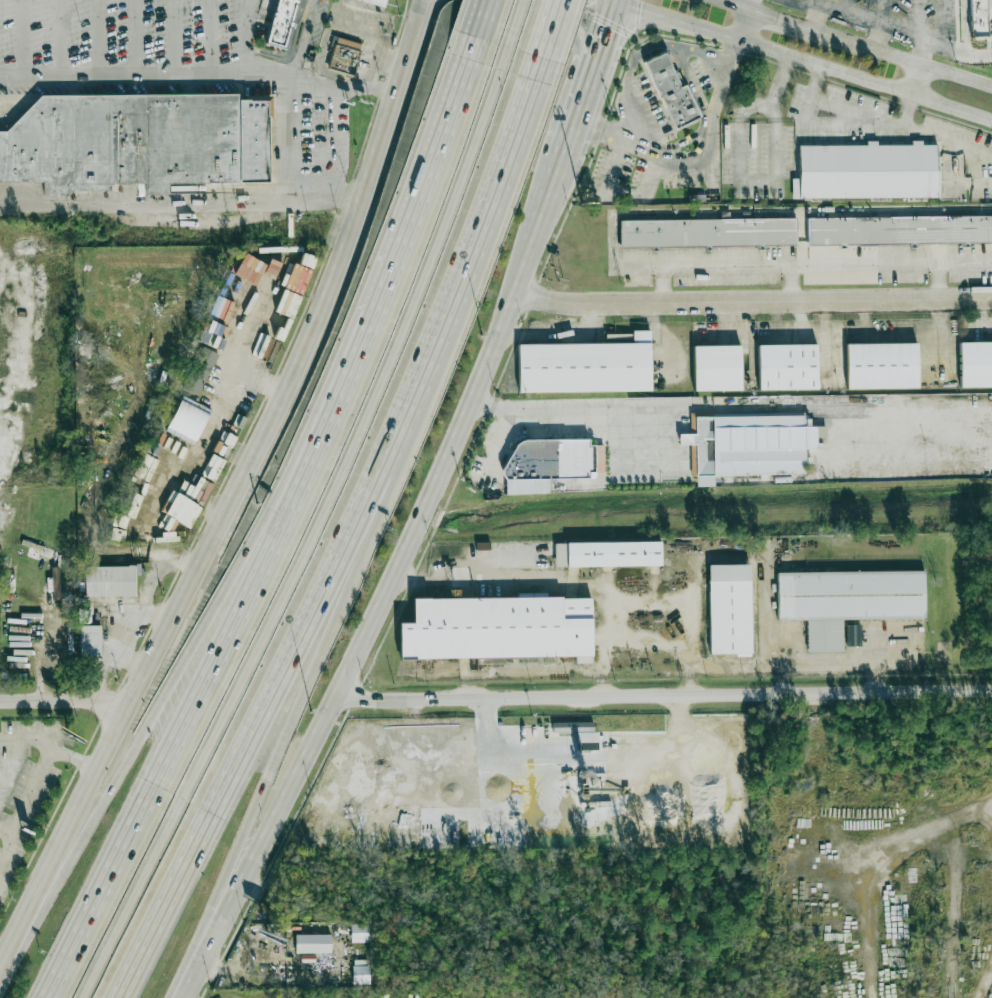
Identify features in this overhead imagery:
road: (612, 1)
road: (616, 1)
building: (376, 3)
road: (846, 5)
road: (752, 6)
road: (423, 10)
road: (427, 10)
road: (435, 10)
road: (882, 10)
road: (816, 16)
road: (868, 16)
road: (557, 17)
road: (480, 19)
building: (283, 23)
road: (514, 23)
road: (945, 24)
traffic signals: (606, 26)
road: (746, 26)
road: (605, 27)
road: (550, 29)
road: (922, 33)
road: (878, 35)
road: (20, 38)
road: (61, 38)
road: (96, 38)
road: (134, 38)
road: (170, 38)
road: (246, 41)
road: (849, 42)
road: (374, 43)
road: (738, 48)
road: (644, 50)
road: (957, 50)
building: (346, 58)
road: (805, 58)
road: (297, 60)
road: (123, 77)
road: (778, 77)
road: (920, 79)
road: (367, 88)
building: (674, 92)
road: (578, 106)
road: (852, 110)
road: (598, 128)
building: (253, 140)
building: (122, 141)
road: (711, 152)
road: (429, 160)
building: (866, 170)
road: (749, 180)
road: (326, 186)
road: (617, 190)
road: (350, 192)
road: (546, 200)
building: (898, 231)
building: (706, 232)
road: (811, 264)
road: (522, 267)
road: (939, 280)
road: (790, 282)
road: (751, 300)
road: (254, 327)
building: (975, 364)
building: (880, 366)
building: (583, 367)
building: (786, 367)
building: (716, 368)
building: (199, 371)
road: (219, 409)
road: (628, 410)
building: (188, 420)
building: (749, 445)
building: (549, 463)
building: (141, 487)
building: (133, 506)
road: (237, 508)
road: (309, 528)
road: (349, 536)
building: (607, 554)
road: (527, 575)
building: (110, 581)
building: (55, 583)
building: (847, 601)
building: (730, 609)
building: (84, 615)
building: (498, 628)
road: (199, 634)
building: (853, 635)
road: (626, 636)
building: (90, 640)
road: (222, 645)
road: (320, 648)
road: (358, 648)
road: (44, 658)
road: (721, 660)
road: (830, 660)
road: (664, 695)
road: (64, 698)
building: (567, 726)
road: (74, 758)
road: (45, 765)
road: (586, 822)
road: (5, 826)
road: (8, 847)
building: (360, 932)
building: (313, 943)
building: (360, 975)

